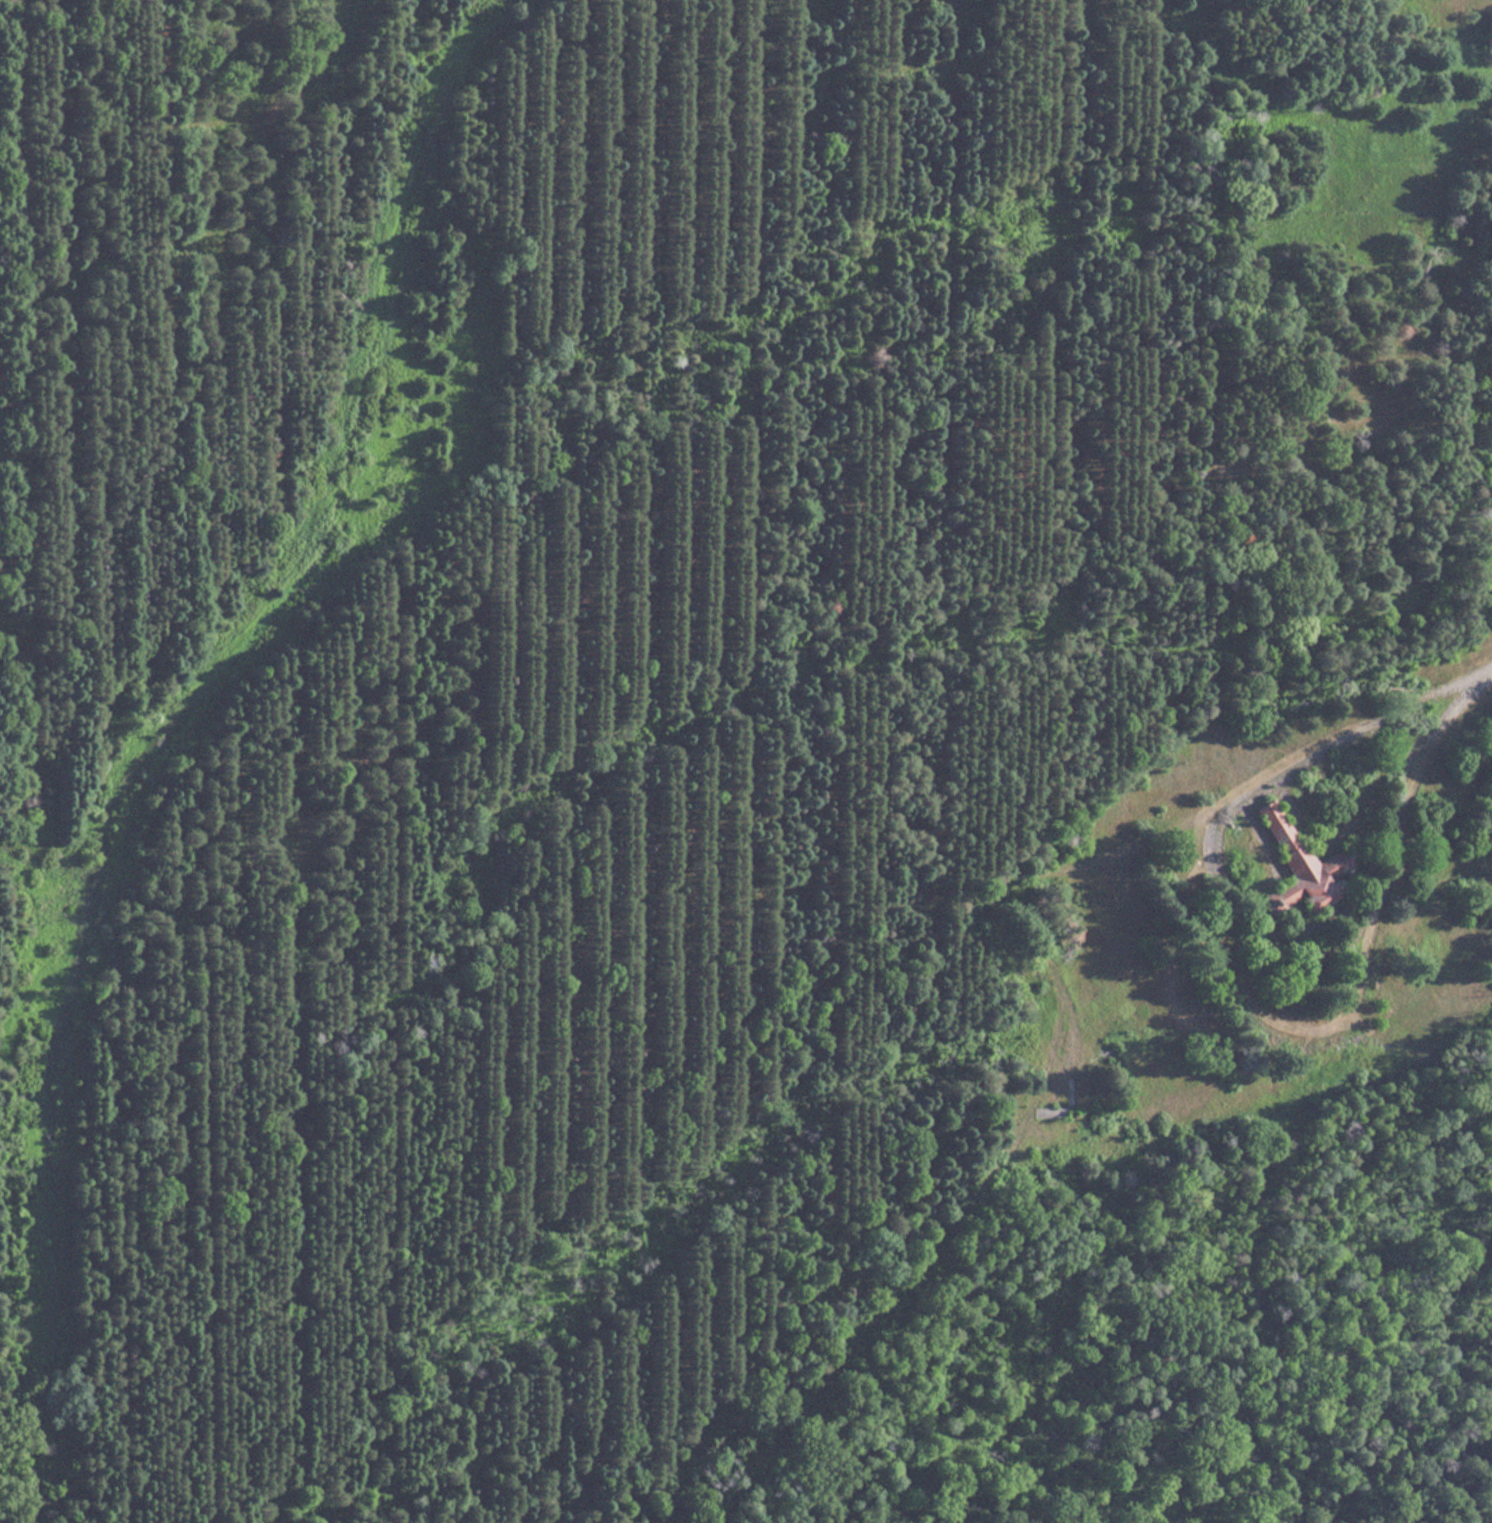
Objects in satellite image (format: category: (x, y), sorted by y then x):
road: (1359, 728)
road: (1421, 732)
building: (1294, 864)

